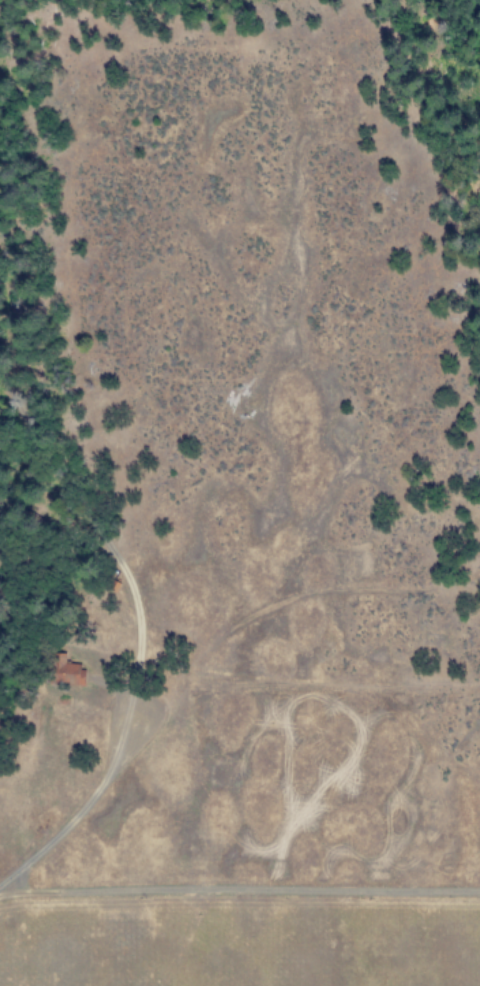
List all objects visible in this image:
building: (65, 671)

